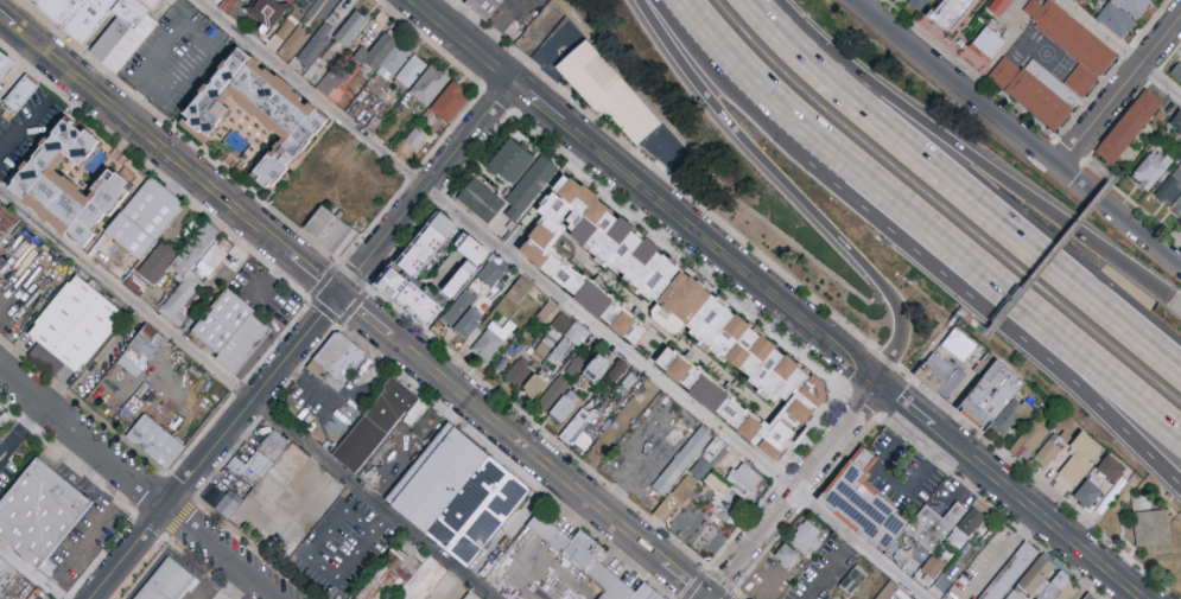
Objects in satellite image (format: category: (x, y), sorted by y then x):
building: (233, 0)
building: (901, 0)
building: (904, 0)
building: (919, 4)
building: (1135, 7)
building: (484, 8)
building: (268, 12)
building: (1004, 12)
building: (951, 13)
building: (1116, 20)
building: (350, 30)
building: (125, 34)
building: (291, 37)
building: (312, 45)
road: (1124, 46)
building: (983, 49)
building: (1180, 50)
parking lot: (177, 57)
building: (393, 62)
building: (6, 63)
road: (148, 68)
building: (1091, 69)
road: (749, 70)
building: (1176, 72)
building: (430, 85)
building: (336, 87)
building: (605, 91)
building: (24, 93)
road: (1120, 93)
building: (450, 102)
building: (255, 111)
building: (0, 115)
building: (1176, 122)
building: (1129, 127)
road: (25, 128)
road: (1021, 132)
building: (418, 135)
building: (338, 142)
road: (1068, 149)
road: (1092, 151)
road: (170, 154)
road: (966, 157)
road: (1090, 158)
road: (1082, 160)
building: (1179, 160)
building: (512, 161)
building: (381, 171)
building: (1151, 171)
building: (368, 185)
building: (69, 186)
road: (424, 186)
building: (299, 187)
building: (529, 187)
building: (1170, 187)
road: (792, 192)
road: (958, 192)
road: (897, 202)
building: (1176, 206)
building: (151, 218)
building: (324, 219)
building: (7, 223)
building: (1179, 223)
building: (345, 232)
building: (198, 247)
building: (459, 250)
building: (489, 250)
road: (1042, 250)
building: (484, 261)
building: (155, 266)
building: (186, 287)
road: (564, 298)
road: (775, 301)
road: (1176, 304)
road: (1, 305)
building: (523, 305)
building: (450, 308)
building: (566, 319)
building: (686, 319)
building: (81, 321)
building: (475, 321)
building: (579, 329)
building: (235, 331)
building: (496, 337)
building: (961, 338)
building: (592, 339)
building: (144, 342)
building: (545, 350)
road: (1079, 352)
building: (512, 355)
road: (884, 356)
building: (344, 357)
building: (558, 358)
building: (580, 358)
road: (912, 358)
building: (602, 363)
building: (934, 371)
building: (634, 377)
road: (1078, 377)
building: (647, 385)
road: (306, 388)
building: (534, 390)
road: (247, 395)
building: (555, 397)
building: (573, 401)
building: (995, 401)
building: (1, 415)
building: (585, 418)
building: (380, 425)
building: (601, 426)
road: (900, 427)
road: (20, 428)
building: (1029, 440)
building: (159, 441)
road: (220, 447)
road: (525, 447)
building: (1049, 451)
building: (862, 458)
building: (687, 460)
building: (1079, 460)
building: (1111, 469)
parking lot: (900, 474)
building: (744, 476)
road: (895, 478)
building: (243, 479)
building: (694, 479)
road: (1037, 480)
building: (723, 483)
road: (140, 484)
building: (709, 491)
road: (792, 491)
building: (1087, 493)
building: (468, 496)
building: (861, 506)
building: (43, 511)
road: (95, 522)
building: (263, 523)
building: (1151, 528)
building: (927, 533)
building: (807, 539)
building: (786, 556)
building: (1, 559)
building: (585, 559)
road: (313, 566)
building: (932, 571)
road: (32, 572)
building: (1009, 573)
building: (12, 578)
building: (1031, 579)
building: (427, 580)
building: (853, 580)
building: (167, 581)
building: (385, 585)
building: (882, 588)
building: (1059, 588)
building: (645, 592)
building: (476, 595)
building: (1081, 595)
building: (1087, 597)

